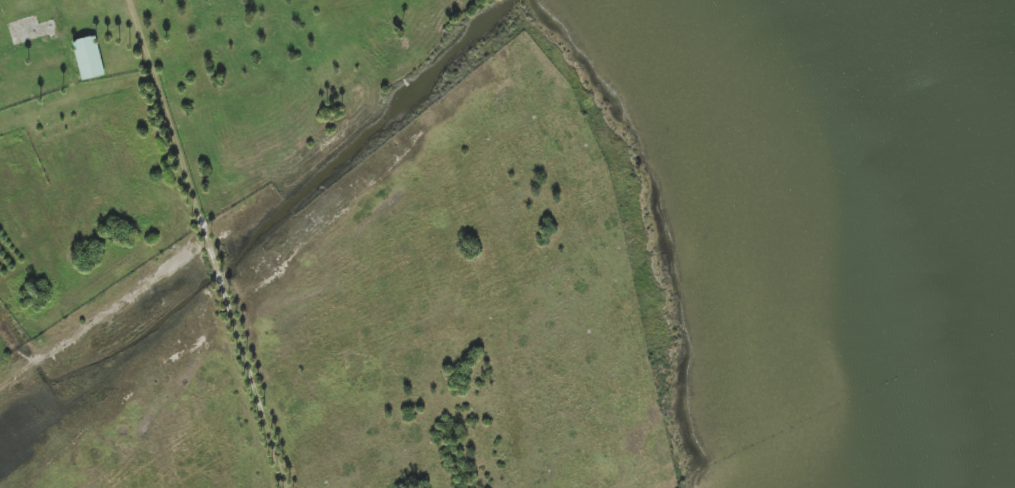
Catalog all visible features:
building: (89, 58)

